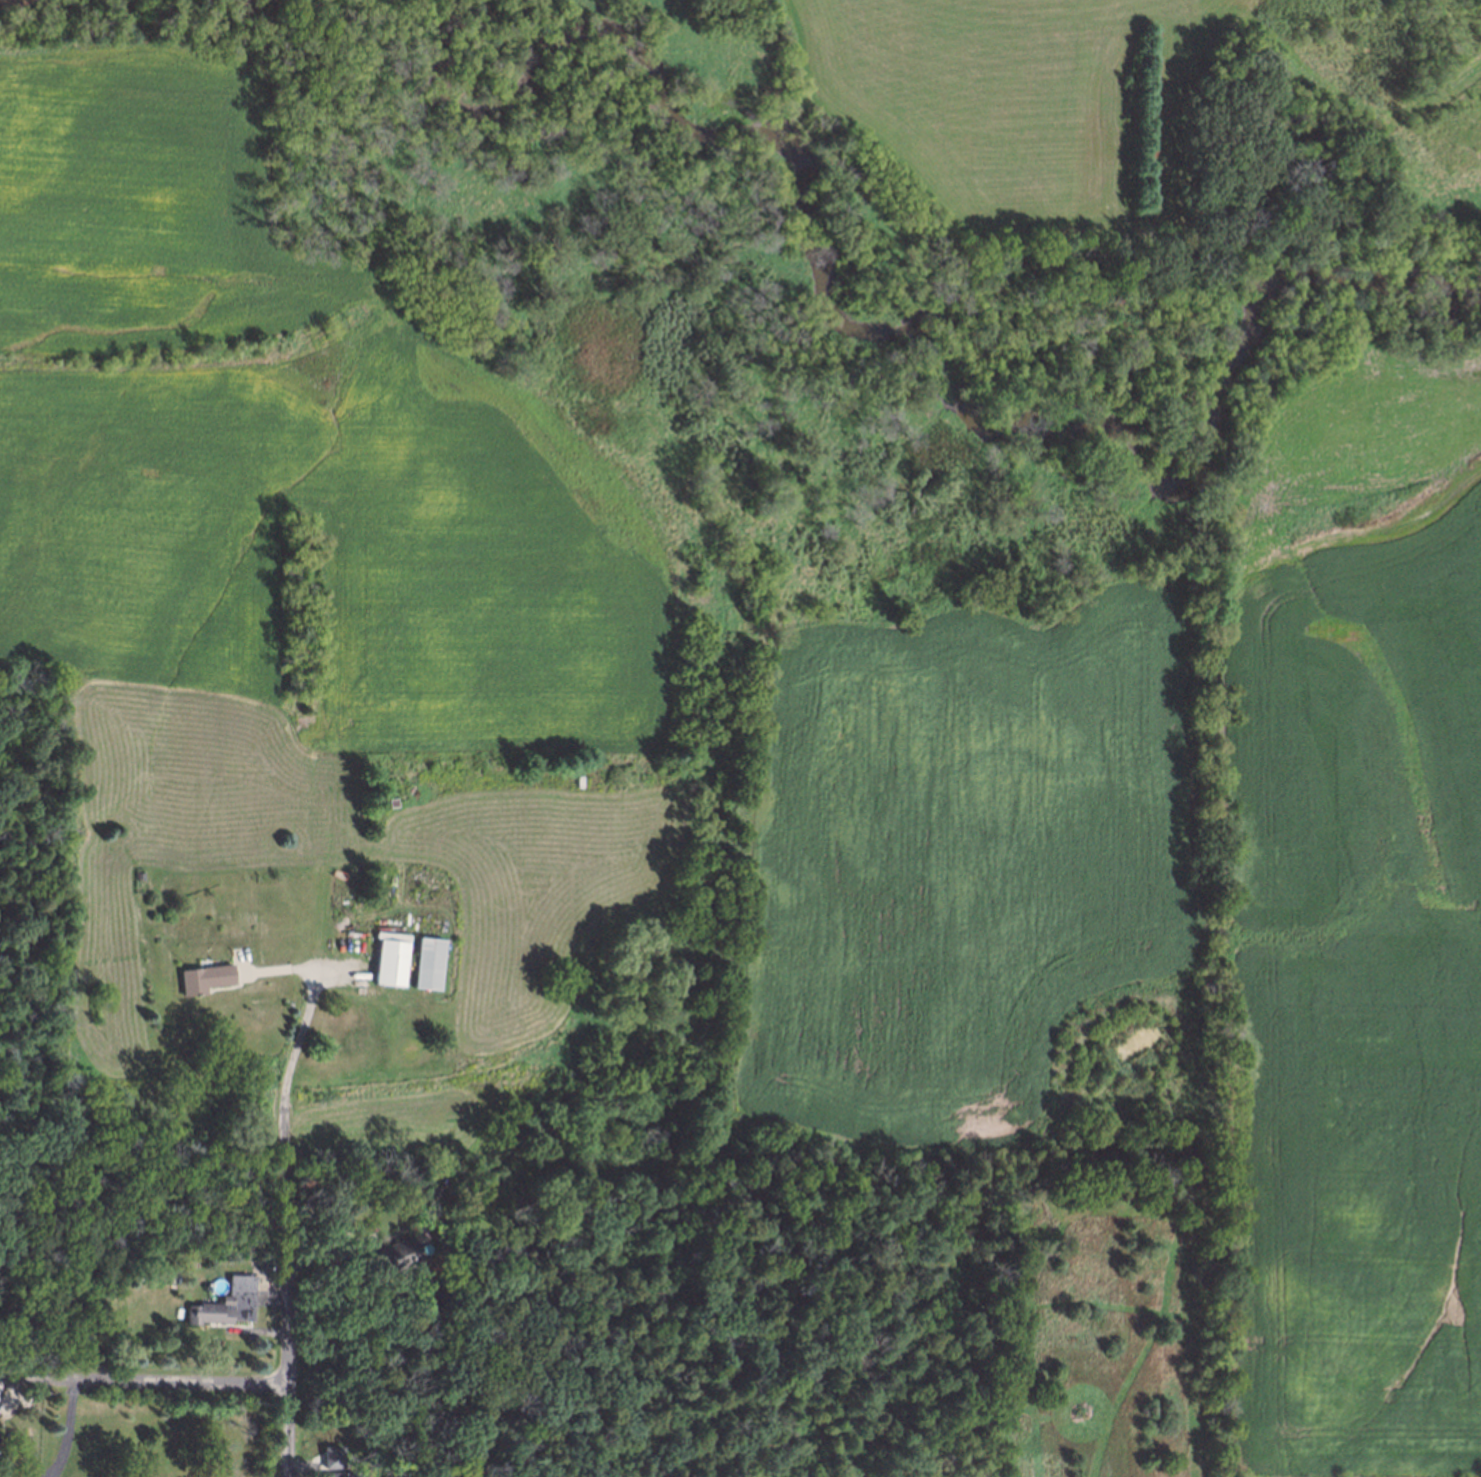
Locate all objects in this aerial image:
river: (933, 329)
building: (383, 960)
building: (423, 961)
building: (204, 979)
building: (191, 1070)
road: (283, 1221)
building: (391, 1254)
building: (165, 1276)
building: (336, 1282)
building: (239, 1295)
building: (58, 1304)
road: (143, 1376)
road: (69, 1427)
building: (327, 1457)
building: (335, 1474)

